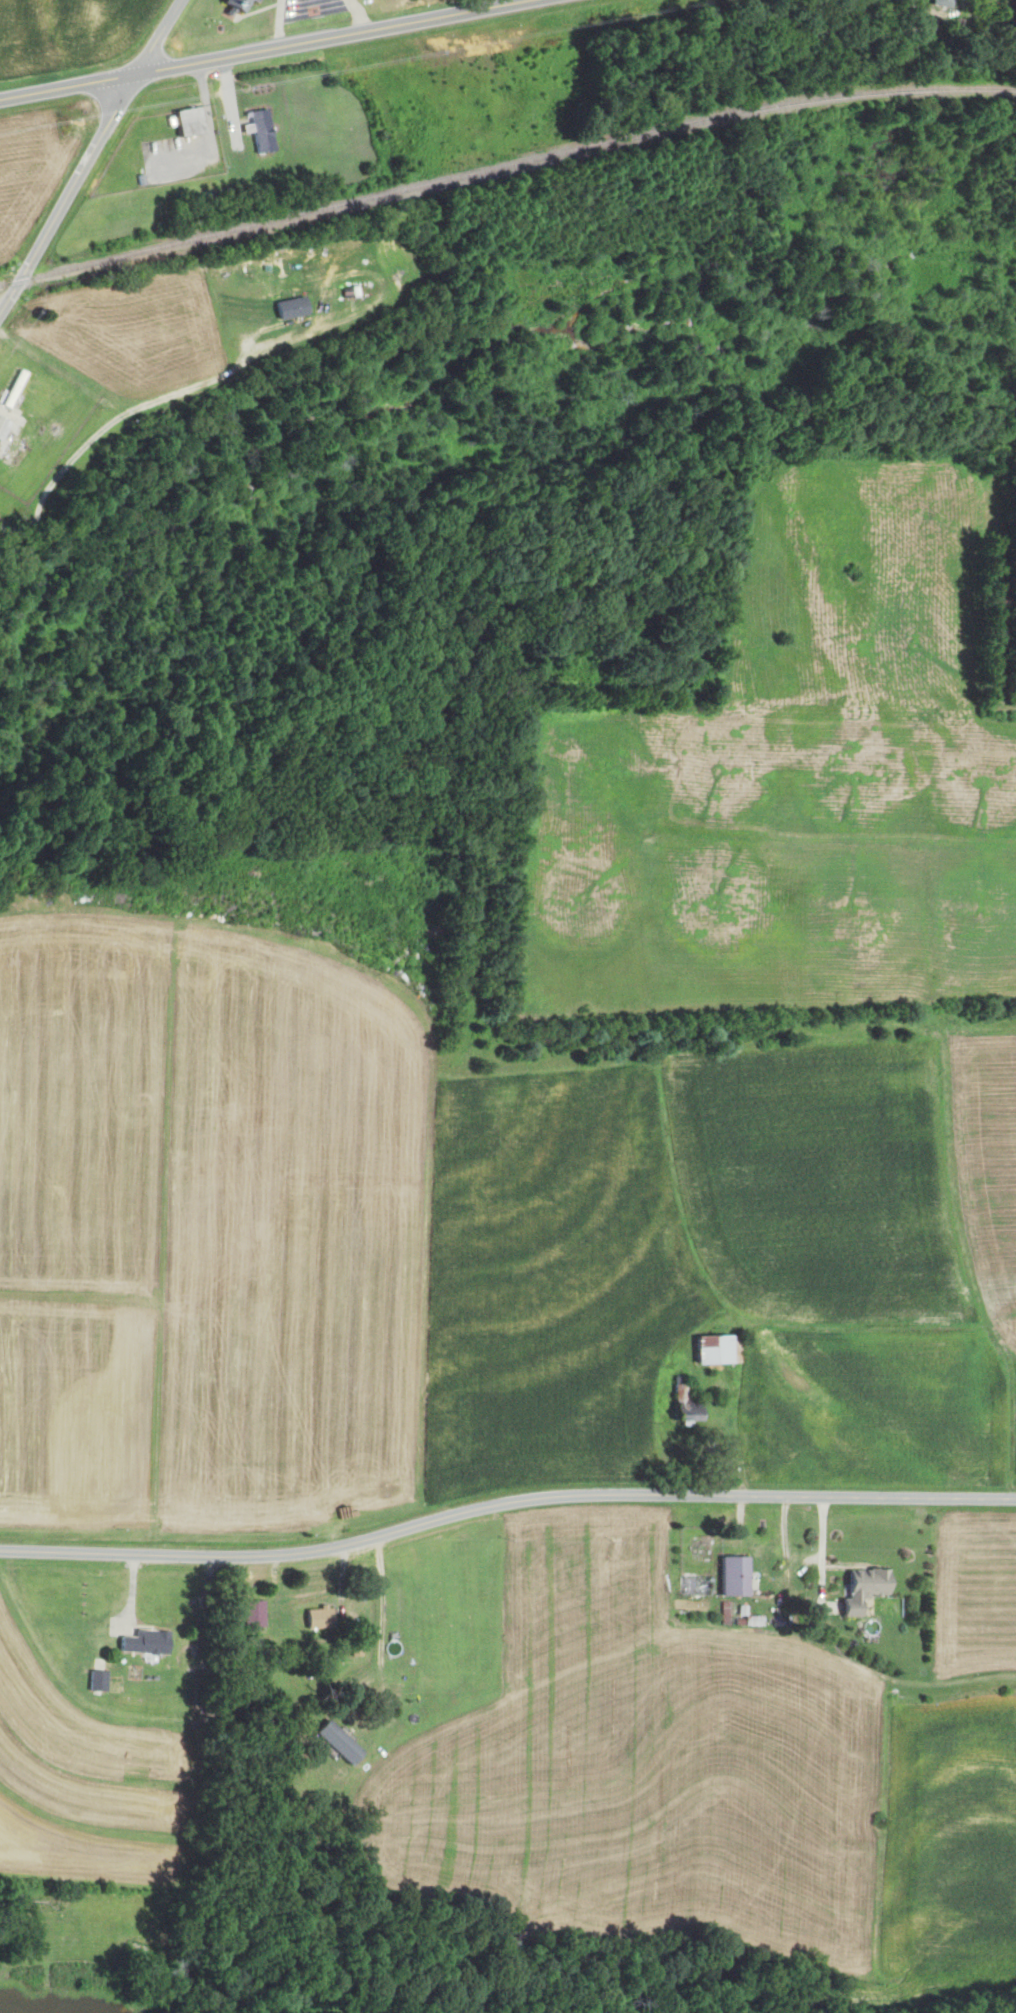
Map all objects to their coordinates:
building: (253, 0)
building: (254, 0)
building: (939, 3)
building: (235, 4)
road: (356, 15)
road: (277, 23)
road: (265, 49)
building: (186, 122)
road: (210, 129)
building: (260, 131)
road: (89, 154)
railway: (504, 166)
building: (289, 307)
road: (299, 323)
road: (116, 405)
building: (12, 410)
building: (711, 1351)
building: (682, 1405)
road: (504, 1504)
building: (731, 1575)
building: (861, 1587)
building: (252, 1614)
building: (317, 1619)
building: (142, 1642)
road: (379, 1670)
building: (96, 1680)
building: (338, 1742)

